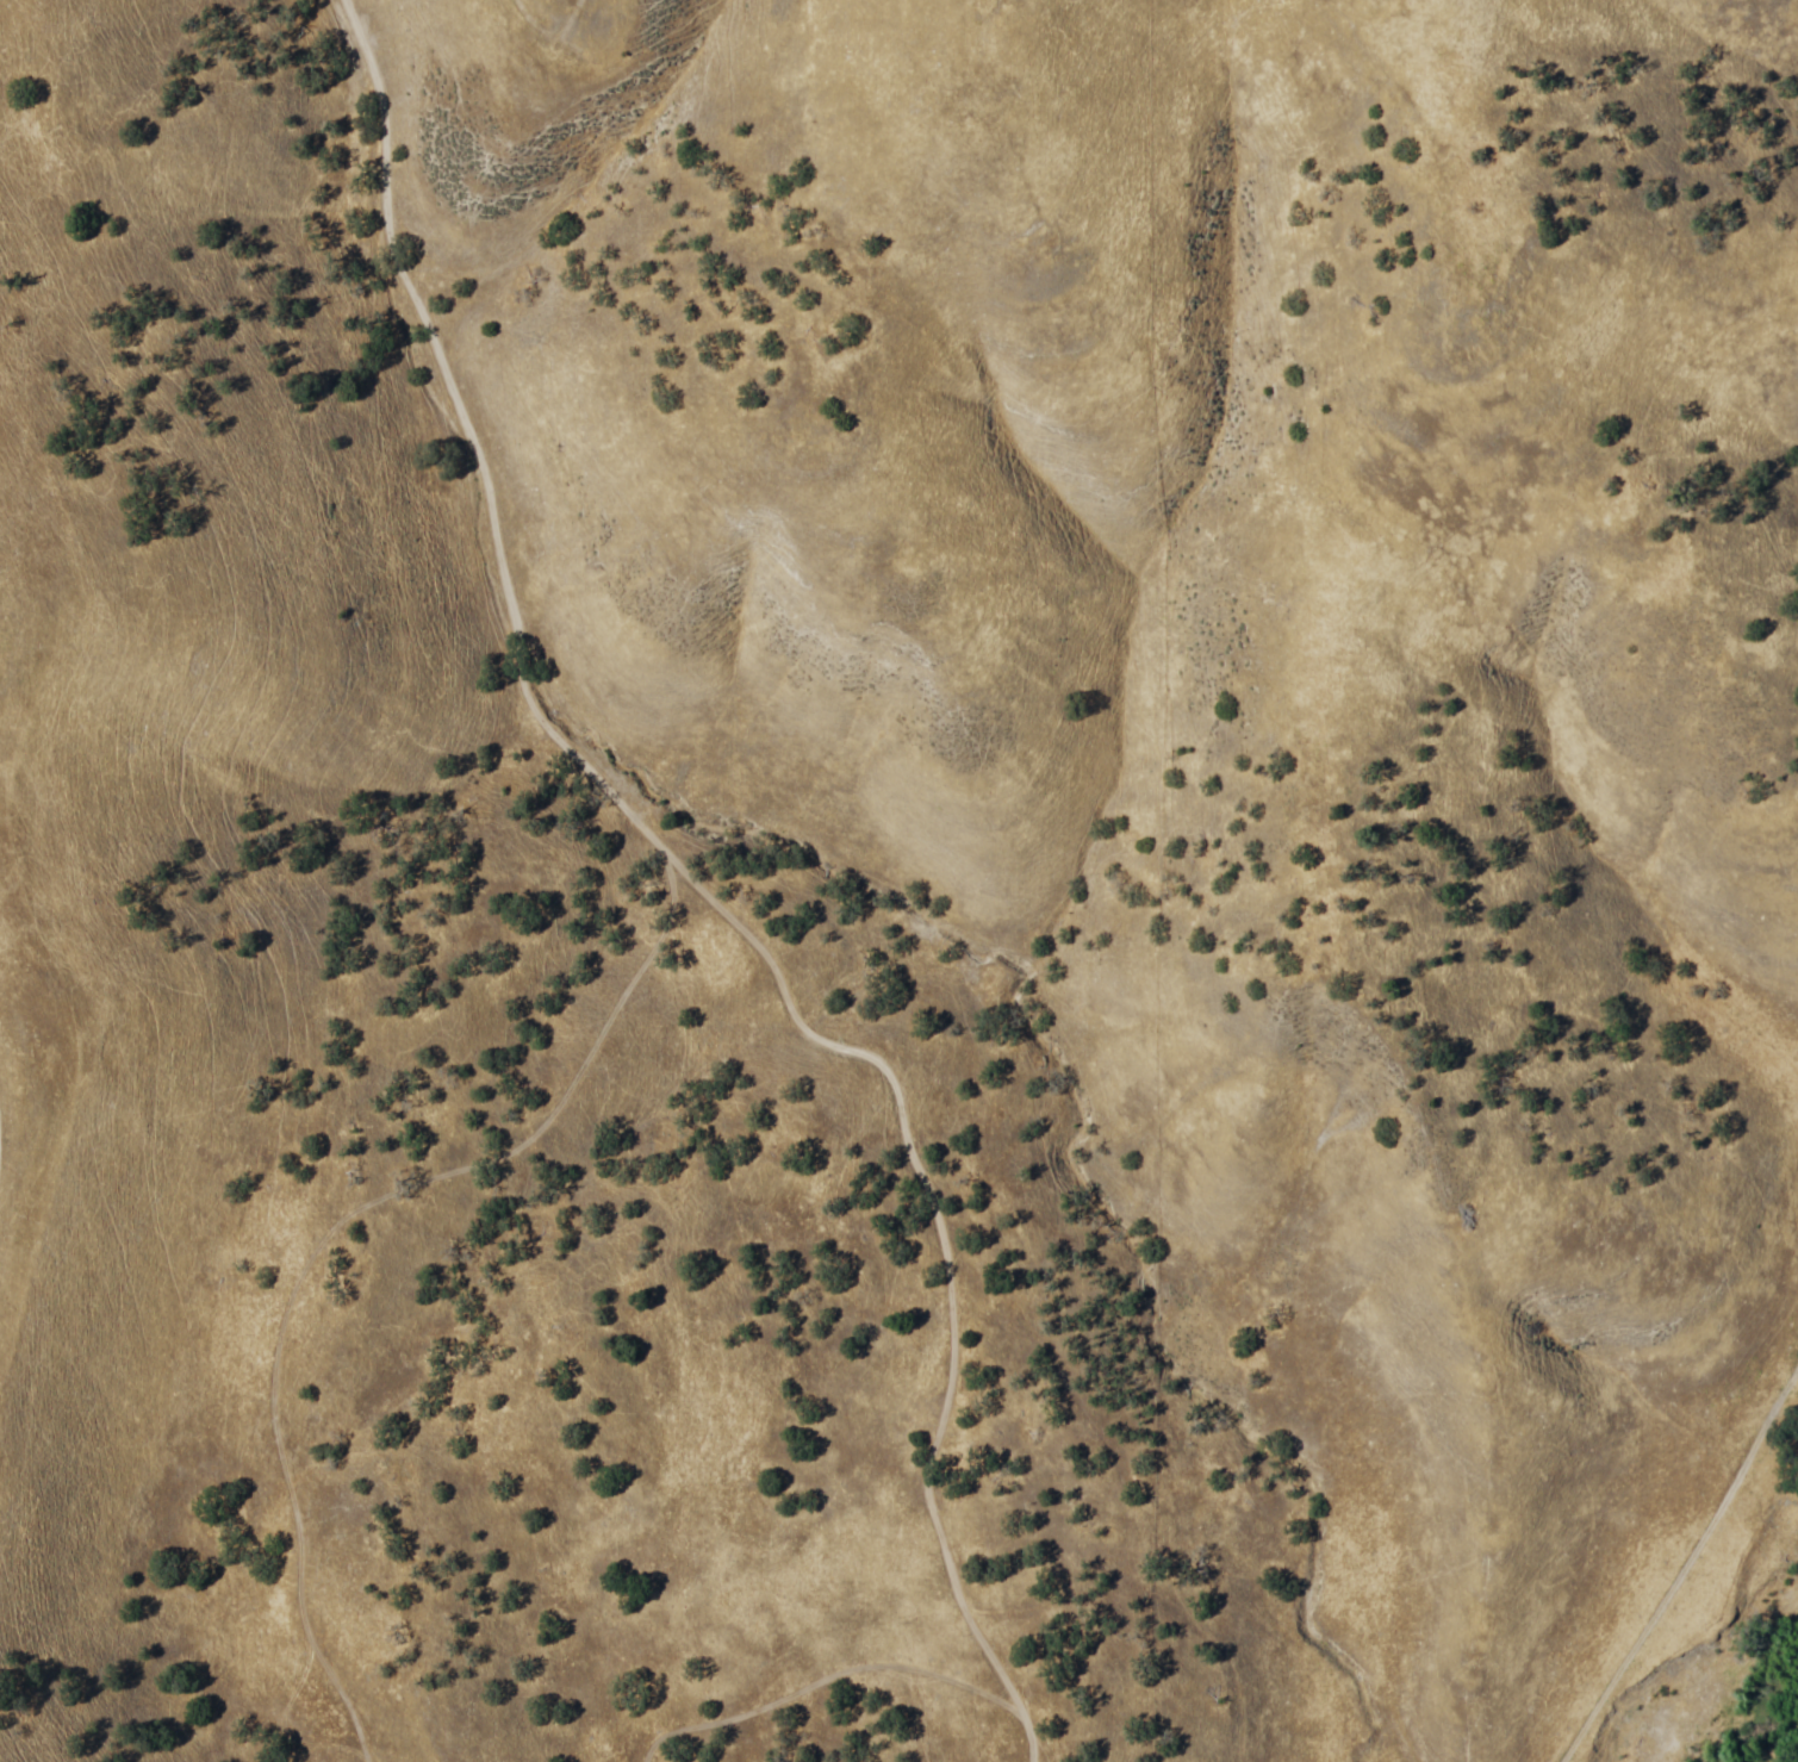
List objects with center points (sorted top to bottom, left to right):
road: (720, 894)

